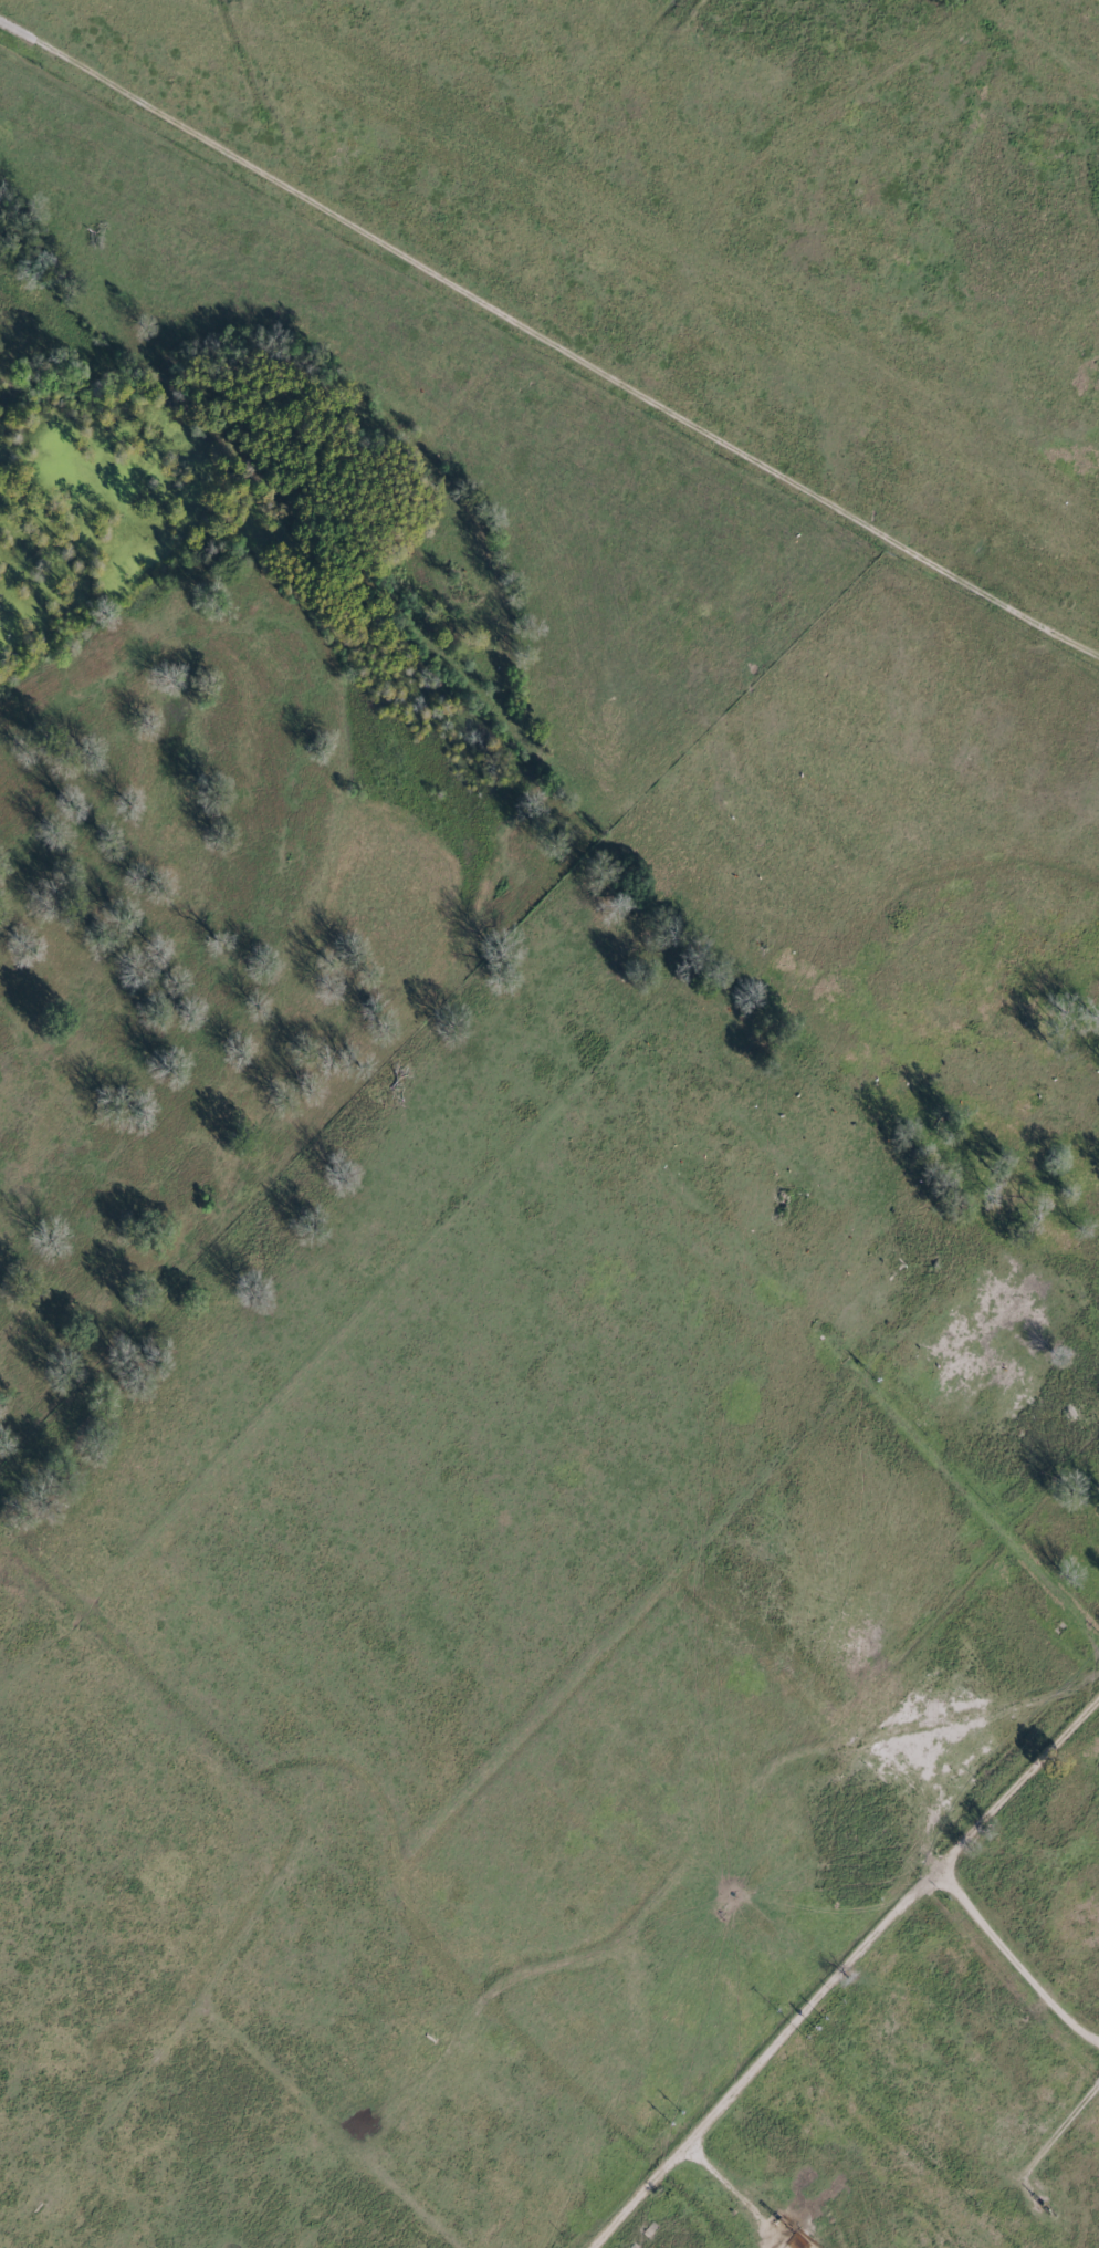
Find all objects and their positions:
road: (549, 361)
road: (841, 1970)

